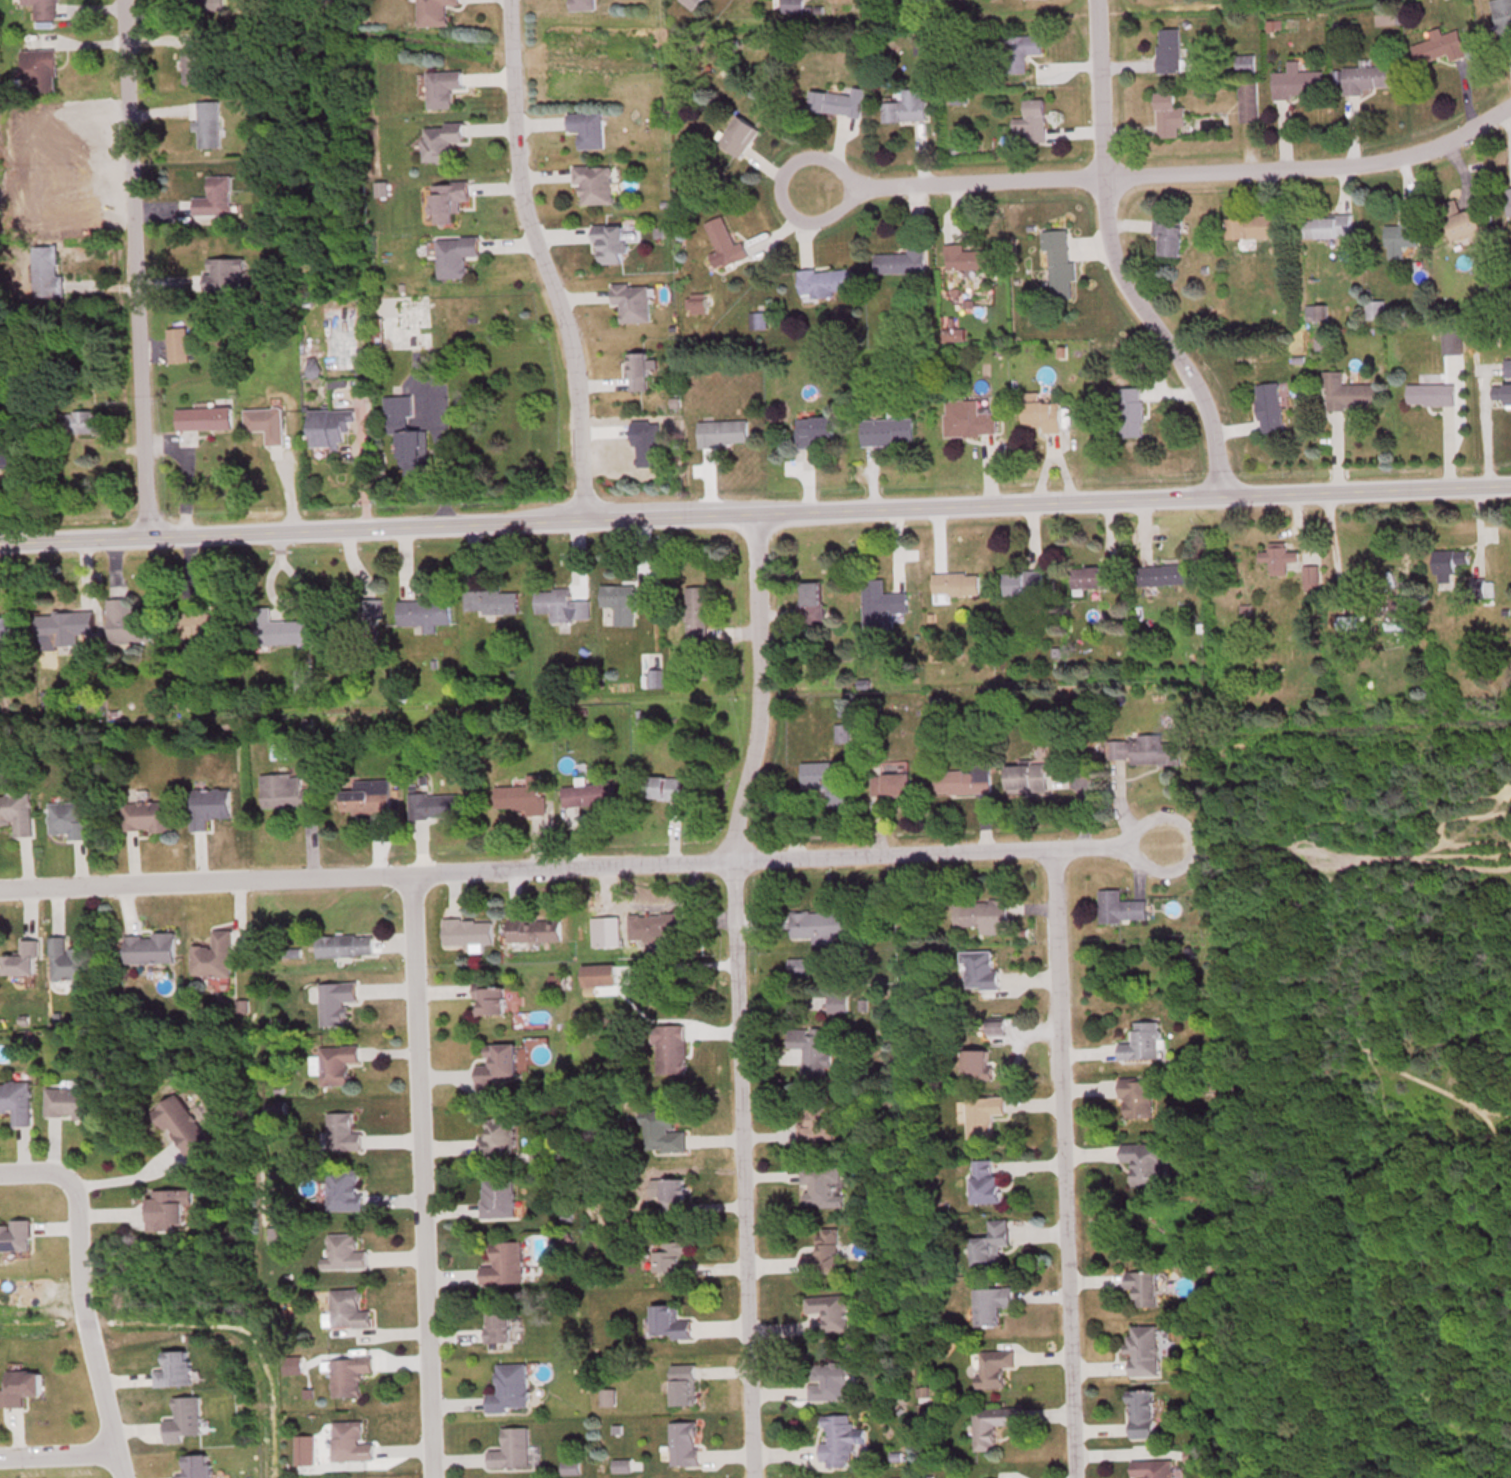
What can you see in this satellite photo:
building: (690, 2)
building: (581, 4)
building: (207, 5)
building: (792, 6)
building: (41, 8)
building: (432, 12)
building: (1502, 15)
building: (1440, 46)
building: (1168, 49)
building: (1020, 50)
building: (1245, 64)
building: (37, 66)
building: (191, 66)
building: (1367, 77)
building: (1297, 81)
building: (441, 87)
building: (1248, 100)
building: (837, 101)
building: (906, 106)
building: (1168, 114)
building: (1031, 120)
building: (206, 122)
building: (586, 128)
building: (737, 136)
building: (440, 141)
road: (1165, 174)
building: (593, 183)
building: (274, 184)
building: (213, 196)
building: (1509, 200)
building: (445, 201)
building: (1462, 221)
building: (1328, 226)
building: (1251, 227)
building: (1403, 231)
building: (1168, 236)
building: (724, 242)
building: (608, 244)
building: (454, 255)
building: (967, 257)
road: (1115, 258)
road: (541, 260)
building: (900, 261)
building: (1058, 264)
road: (131, 267)
building: (45, 271)
building: (221, 274)
building: (823, 281)
building: (631, 301)
building: (1375, 309)
building: (176, 344)
building: (1507, 366)
building: (638, 370)
building: (1347, 392)
building: (1430, 393)
building: (1501, 393)
road: (1176, 399)
building: (1268, 407)
building: (201, 418)
building: (80, 421)
building: (1132, 421)
building: (264, 422)
building: (328, 425)
building: (1045, 426)
building: (402, 428)
building: (813, 429)
building: (968, 429)
building: (721, 432)
building: (886, 440)
building: (6, 454)
road: (441, 458)
road: (367, 464)
road: (986, 482)
road: (755, 511)
building: (1276, 558)
building: (1447, 563)
building: (1164, 574)
building: (1093, 576)
building: (1310, 577)
building: (1023, 583)
building: (953, 585)
building: (624, 600)
building: (490, 601)
building: (810, 601)
building: (879, 602)
building: (560, 604)
building: (422, 613)
building: (696, 614)
building: (1393, 616)
building: (356, 619)
building: (126, 623)
building: (204, 623)
building: (65, 626)
building: (4, 627)
building: (274, 628)
building: (1348, 634)
building: (49, 701)
building: (842, 734)
building: (1143, 750)
building: (827, 778)
building: (1025, 778)
building: (962, 780)
building: (890, 784)
building: (662, 788)
building: (285, 792)
building: (588, 794)
building: (523, 796)
building: (366, 797)
building: (433, 805)
building: (208, 806)
building: (16, 813)
building: (146, 816)
building: (67, 819)
road: (579, 868)
building: (1119, 906)
building: (985, 914)
building: (825, 923)
building: (656, 926)
building: (533, 928)
building: (466, 931)
building: (343, 944)
building: (148, 947)
building: (212, 955)
building: (22, 959)
building: (68, 959)
building: (978, 969)
building: (597, 974)
road: (736, 993)
building: (488, 998)
building: (335, 1001)
building: (814, 1002)
building: (994, 1027)
building: (1141, 1041)
building: (667, 1048)
building: (811, 1053)
building: (975, 1062)
building: (336, 1063)
building: (495, 1065)
building: (1136, 1097)
building: (16, 1100)
building: (68, 1102)
building: (983, 1114)
building: (180, 1123)
building: (816, 1123)
building: (660, 1131)
building: (342, 1132)
building: (497, 1136)
building: (1145, 1160)
road: (1061, 1164)
road: (126, 1173)
road: (33, 1174)
road: (422, 1177)
building: (984, 1179)
building: (821, 1184)
building: (344, 1188)
building: (671, 1194)
building: (497, 1197)
building: (165, 1207)
building: (15, 1234)
building: (990, 1242)
building: (342, 1251)
building: (823, 1252)
building: (671, 1260)
building: (503, 1262)
road: (86, 1281)
building: (1142, 1286)
building: (990, 1304)
building: (347, 1309)
building: (829, 1310)
building: (668, 1322)
building: (497, 1326)
building: (1142, 1350)
building: (992, 1367)
building: (173, 1368)
building: (347, 1375)
building: (828, 1380)
building: (683, 1384)
building: (18, 1386)
building: (509, 1388)
building: (1140, 1413)
building: (183, 1419)
building: (990, 1424)
road: (113, 1434)
building: (837, 1438)
building: (348, 1441)
building: (683, 1442)
road: (58, 1446)
building: (511, 1448)
building: (303, 1449)
building: (194, 1466)
building: (1152, 1468)

